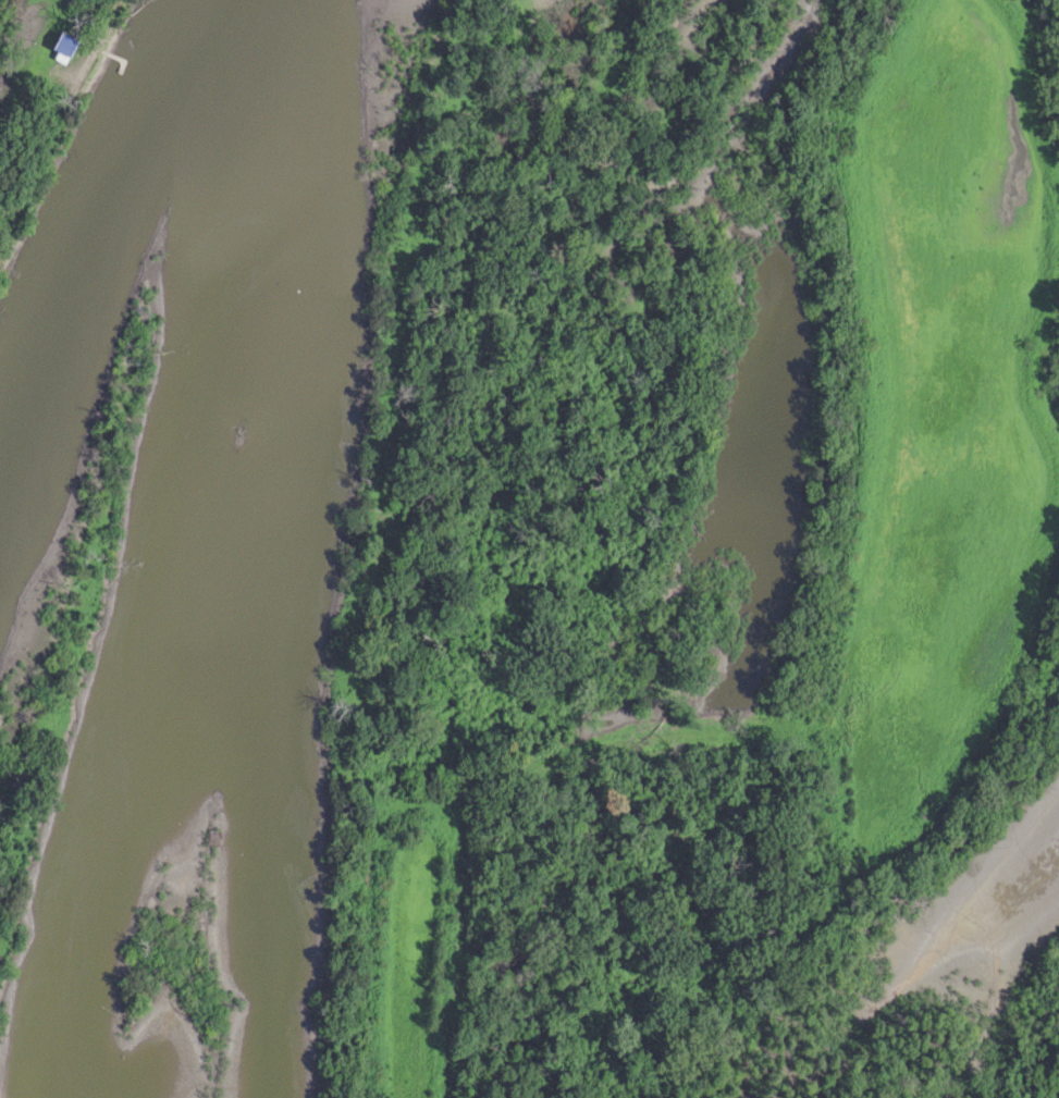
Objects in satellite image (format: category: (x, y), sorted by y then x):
building: (63, 46)

